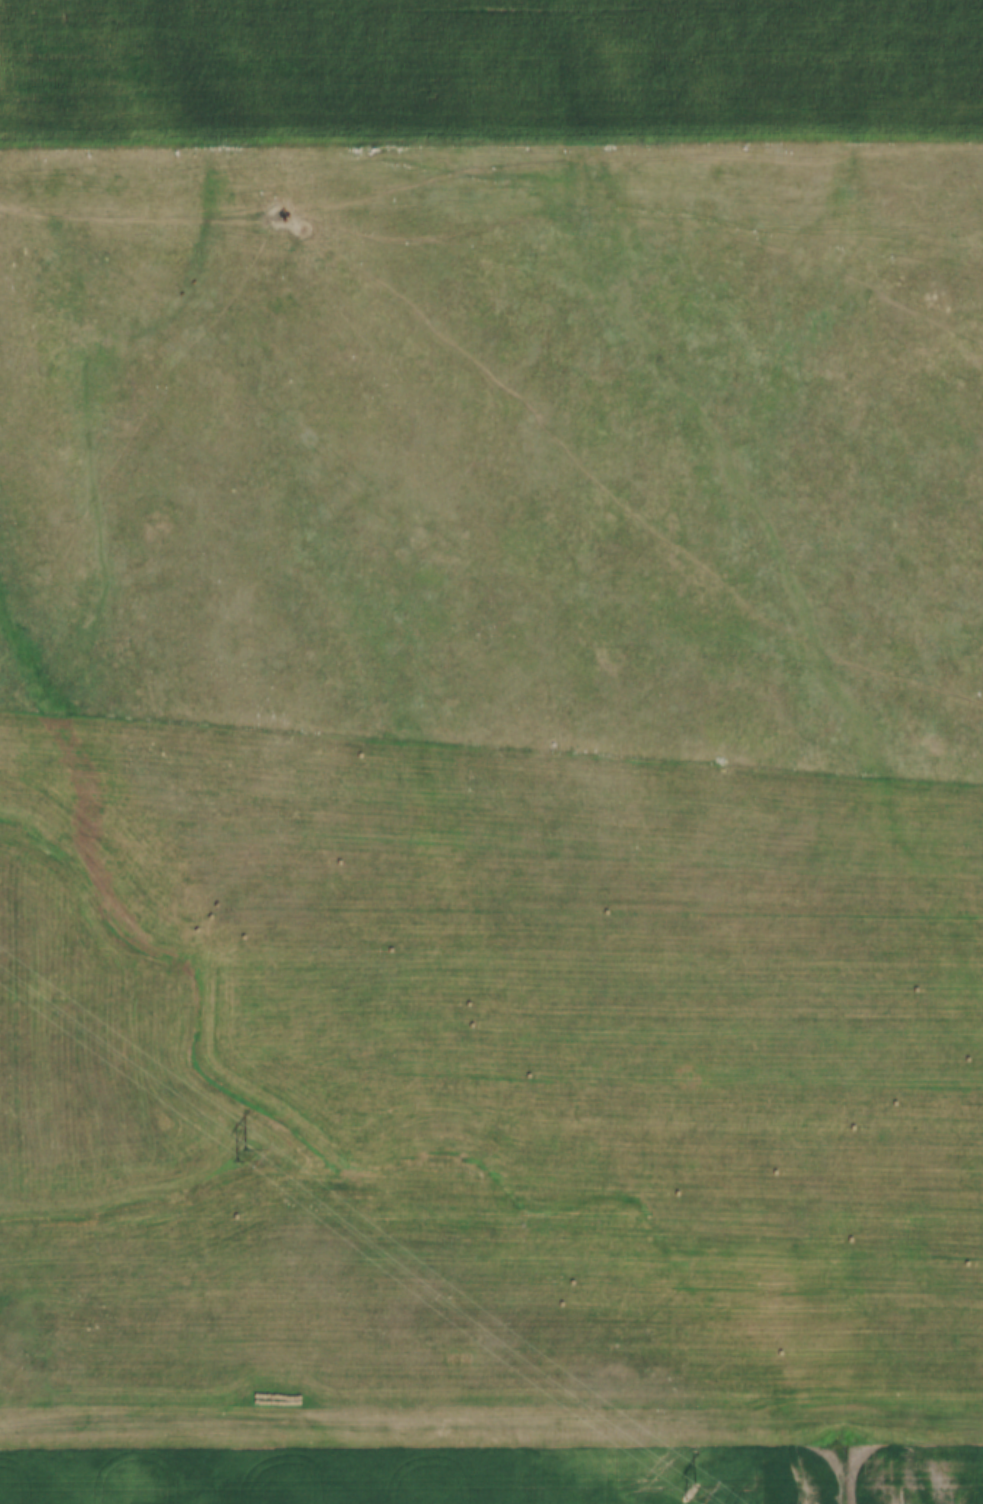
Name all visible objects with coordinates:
power tower: (239, 1155)
road: (266, 1426)
power tower: (689, 1493)

